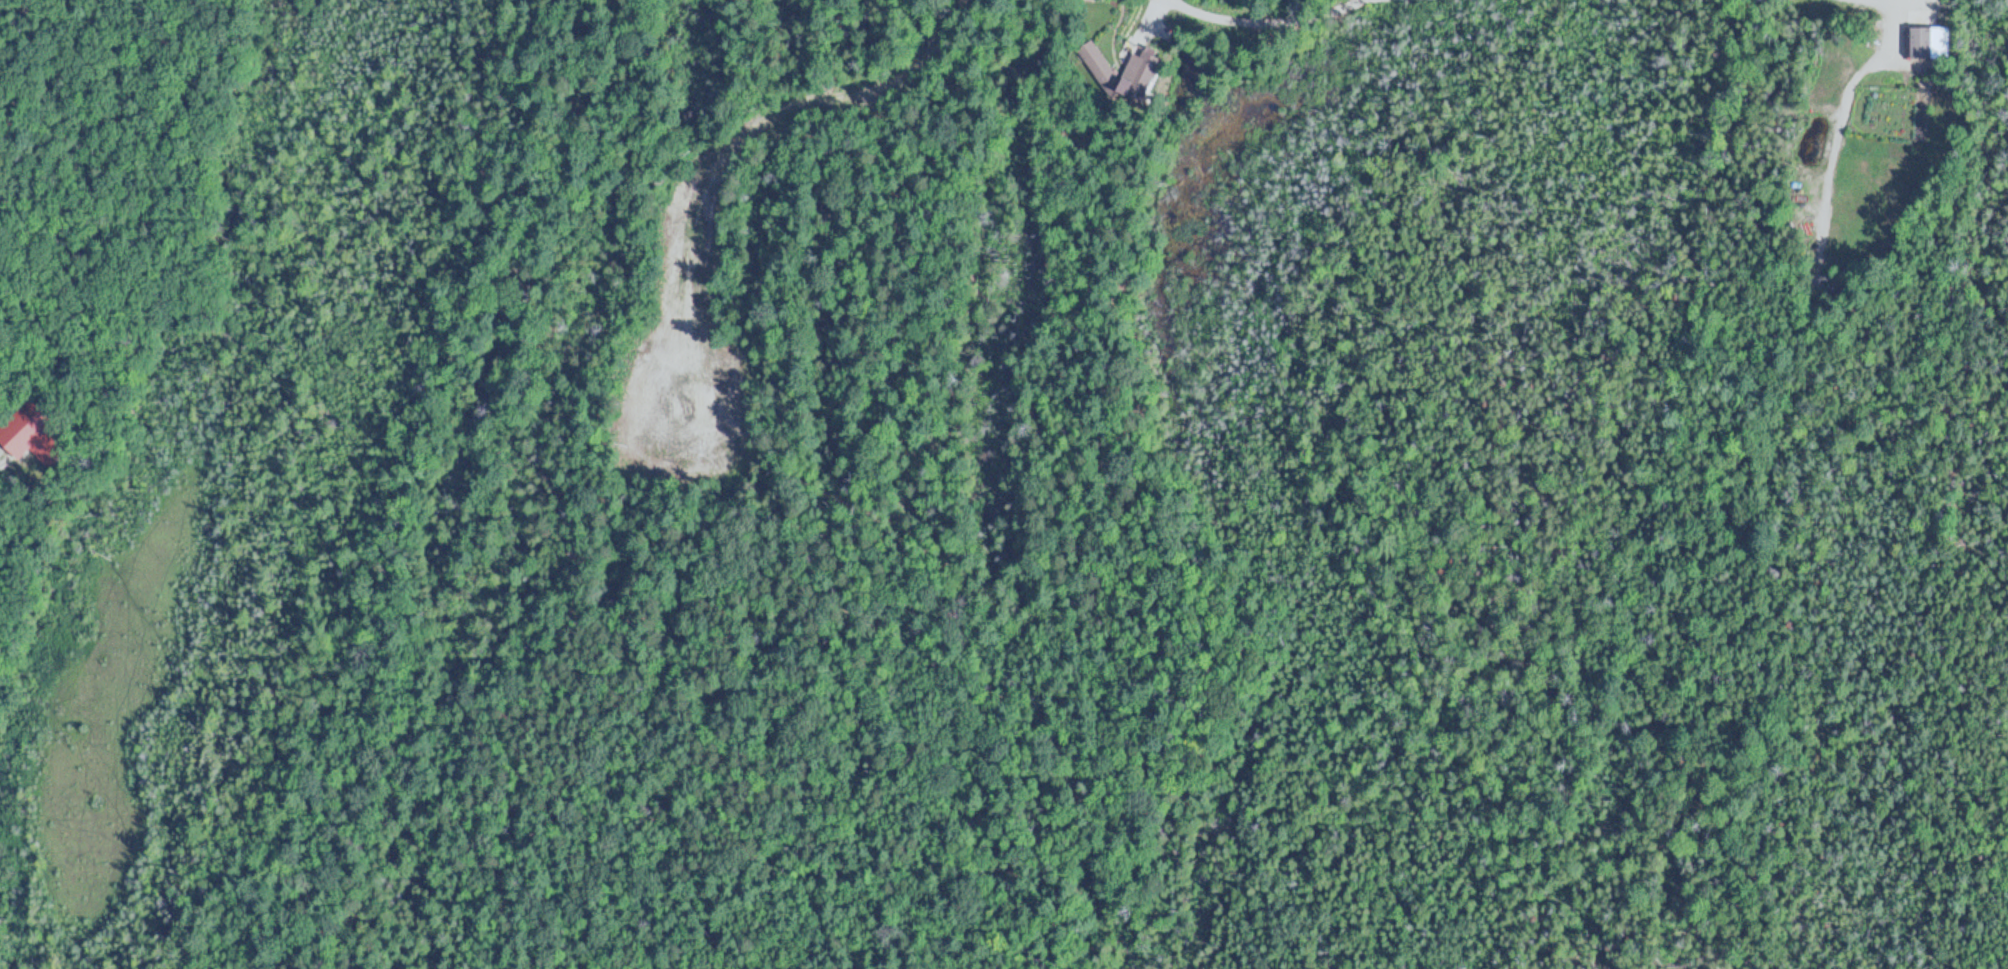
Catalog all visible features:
road: (1260, 21)
building: (1928, 41)
building: (1099, 63)
building: (1147, 72)
building: (30, 432)

